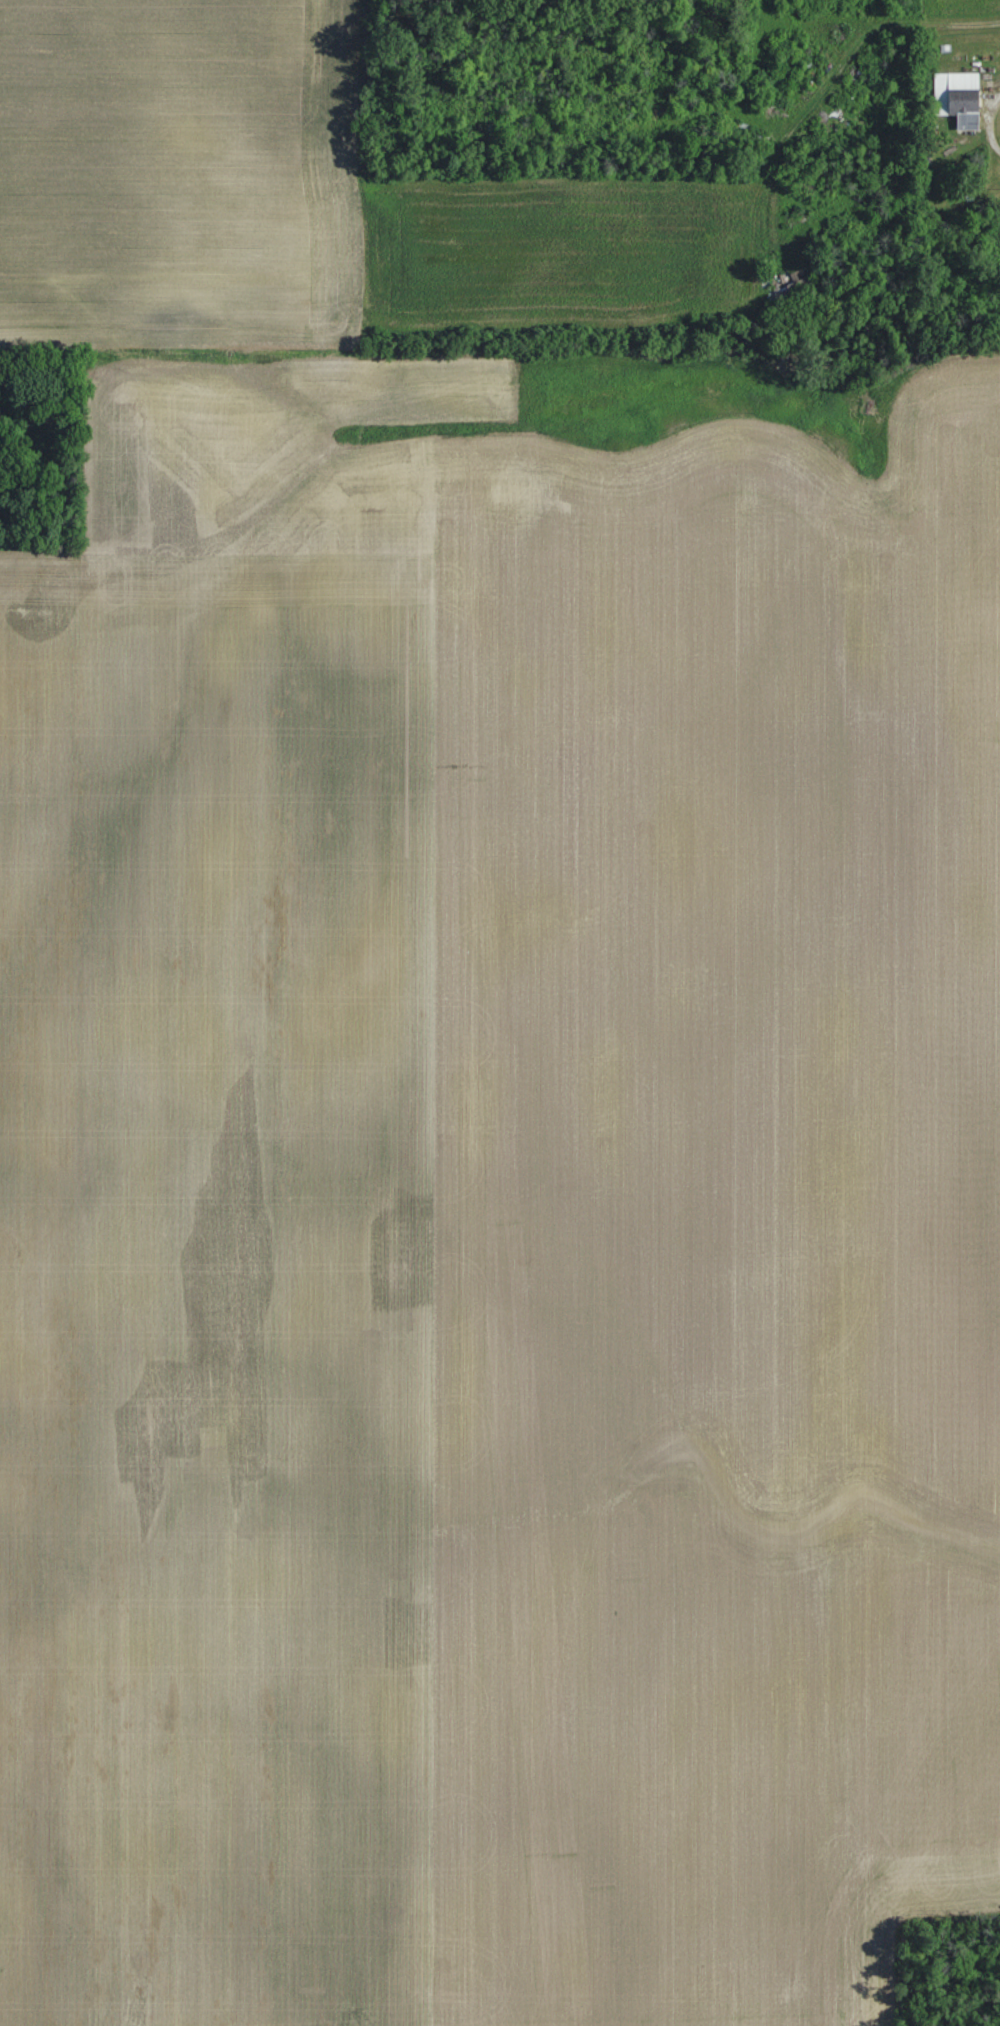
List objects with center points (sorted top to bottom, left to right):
building: (958, 97)
road: (989, 124)
building: (792, 283)

